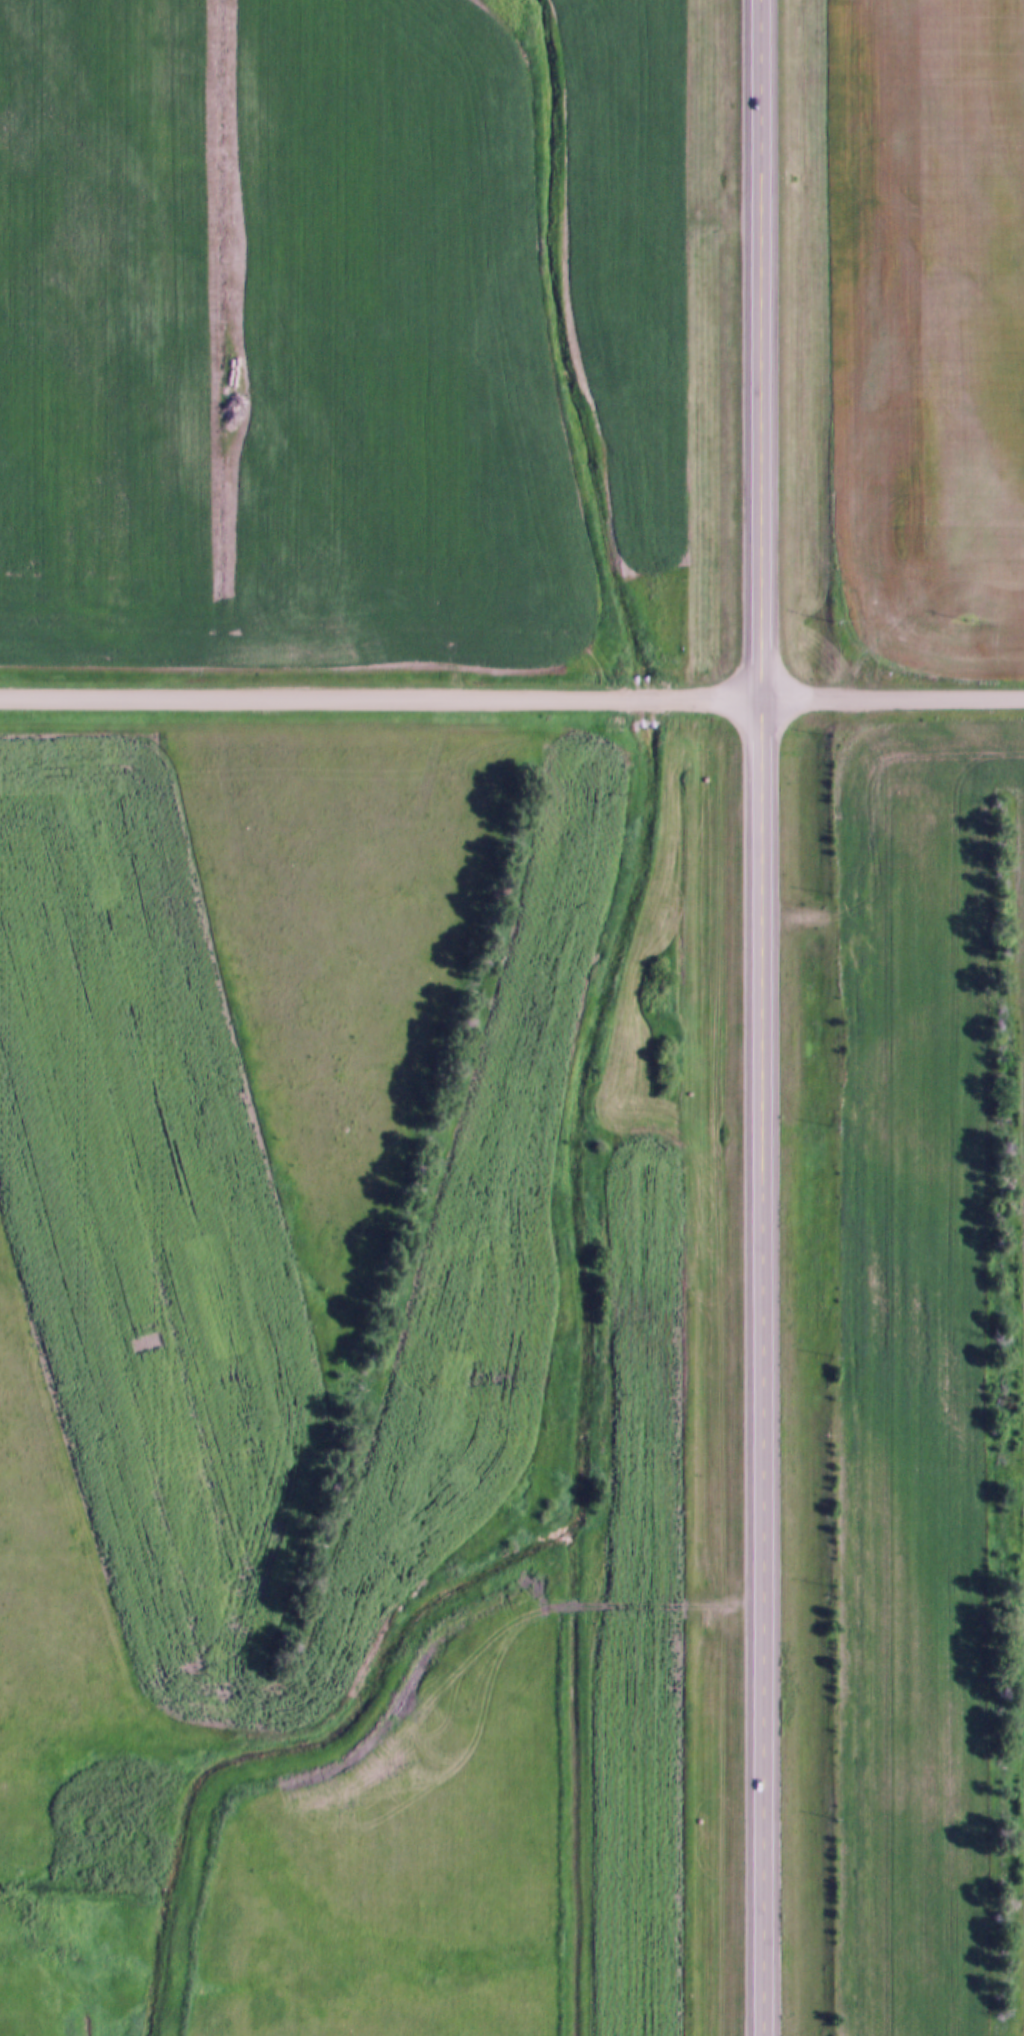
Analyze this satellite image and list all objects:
road: (316, 700)
road: (893, 701)
road: (640, 702)
road: (704, 702)
road: (761, 1018)

